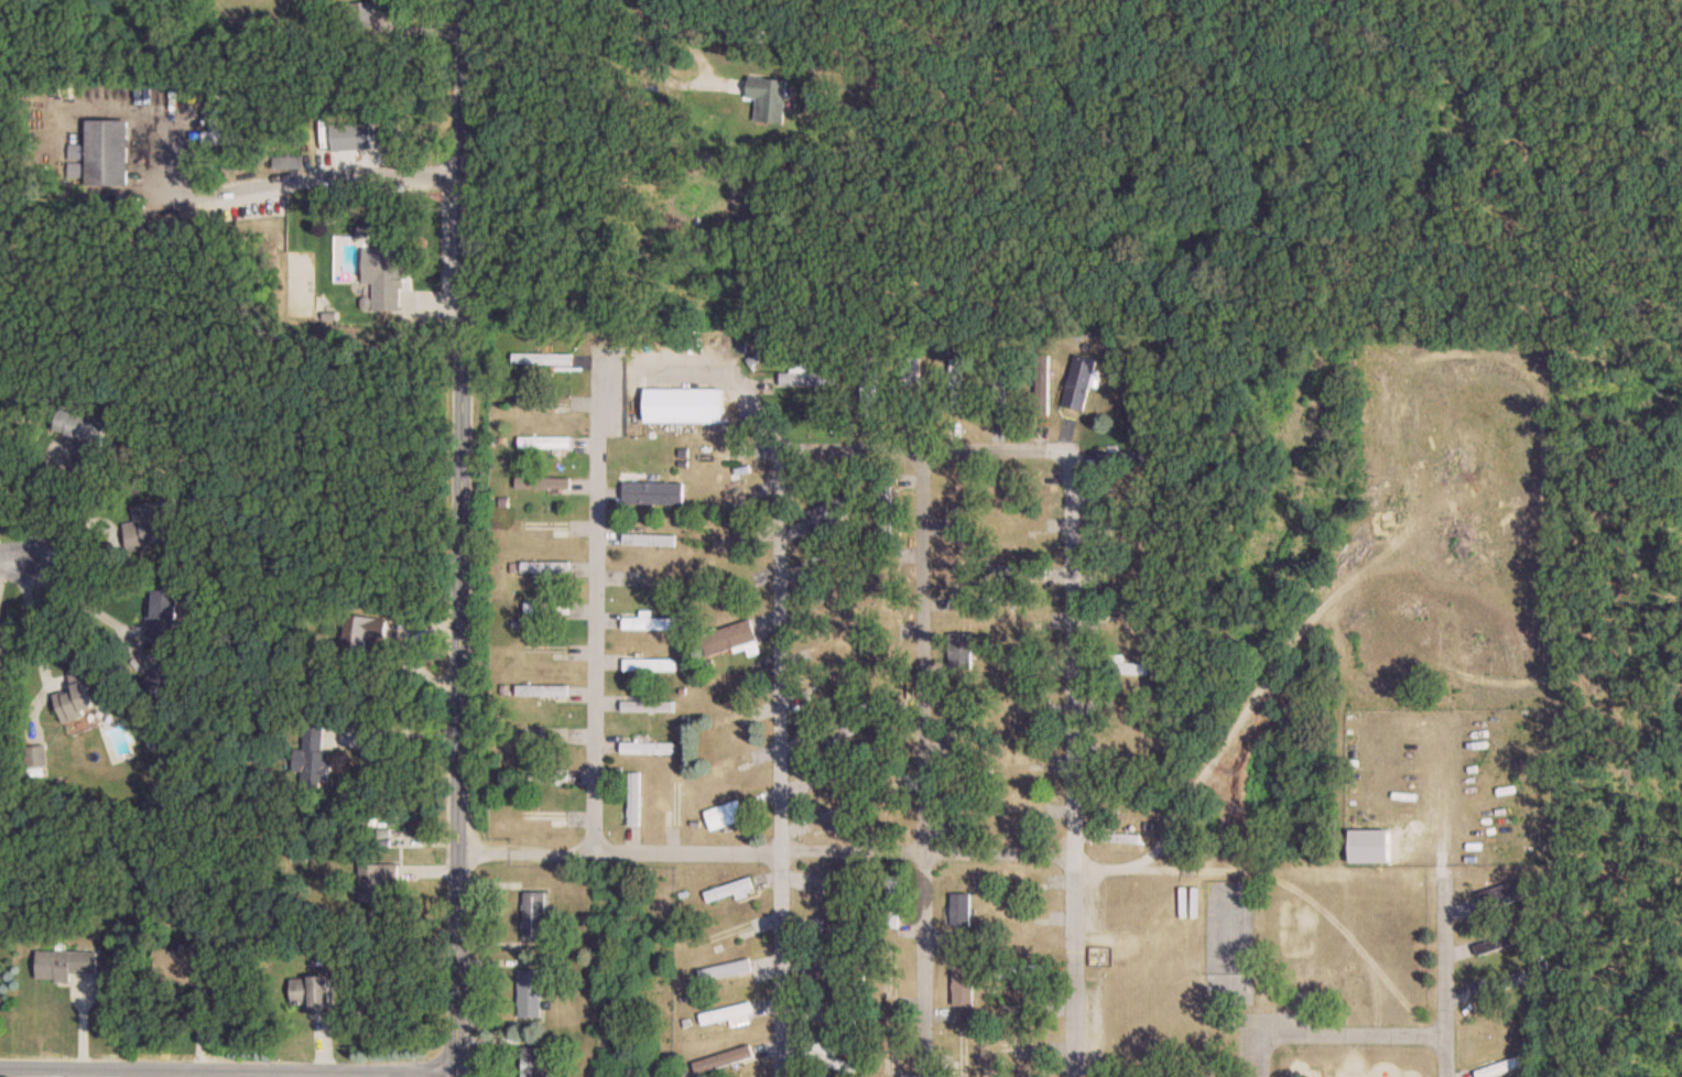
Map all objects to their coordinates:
building: (358, 14)
road: (688, 74)
building: (768, 98)
building: (221, 138)
building: (106, 152)
building: (282, 163)
road: (322, 176)
building: (369, 268)
building: (541, 359)
building: (804, 377)
building: (872, 382)
building: (1078, 383)
building: (1042, 384)
building: (955, 385)
road: (739, 387)
building: (998, 391)
building: (543, 401)
building: (682, 404)
building: (83, 435)
building: (543, 442)
road: (925, 452)
building: (1142, 457)
building: (1109, 458)
building: (1022, 476)
building: (541, 483)
building: (652, 496)
building: (886, 503)
building: (152, 512)
building: (832, 516)
road: (106, 521)
building: (541, 526)
building: (150, 534)
road: (460, 538)
building: (650, 540)
building: (729, 542)
building: (833, 558)
road: (15, 566)
building: (544, 566)
building: (652, 580)
building: (1121, 585)
building: (885, 601)
road: (84, 602)
road: (595, 602)
building: (833, 603)
building: (546, 608)
building: (161, 616)
building: (651, 622)
road: (35, 624)
building: (729, 631)
building: (360, 632)
building: (649, 664)
building: (1021, 665)
building: (1119, 667)
building: (542, 690)
building: (647, 706)
building: (75, 708)
building: (1108, 712)
building: (961, 720)
road: (397, 731)
building: (833, 736)
building: (887, 740)
building: (647, 748)
building: (313, 755)
building: (1026, 762)
road: (923, 763)
road: (780, 764)
road: (1074, 764)
building: (547, 773)
building: (962, 796)
building: (676, 798)
building: (887, 807)
building: (725, 815)
building: (544, 816)
building: (1131, 839)
road: (767, 850)
road: (1208, 867)
building: (375, 880)
building: (728, 890)
building: (1500, 895)
building: (891, 902)
building: (533, 916)
building: (826, 932)
building: (1499, 942)
building: (1103, 957)
building: (64, 965)
building: (178, 966)
building: (1021, 971)
building: (816, 972)
road: (1444, 973)
building: (1501, 984)
building: (310, 993)
building: (529, 993)
building: (1027, 1008)
building: (726, 1013)
building: (829, 1018)
road: (1350, 1034)
road: (1255, 1055)
building: (827, 1058)
building: (723, 1059)
building: (531, 1062)
road: (226, 1071)

